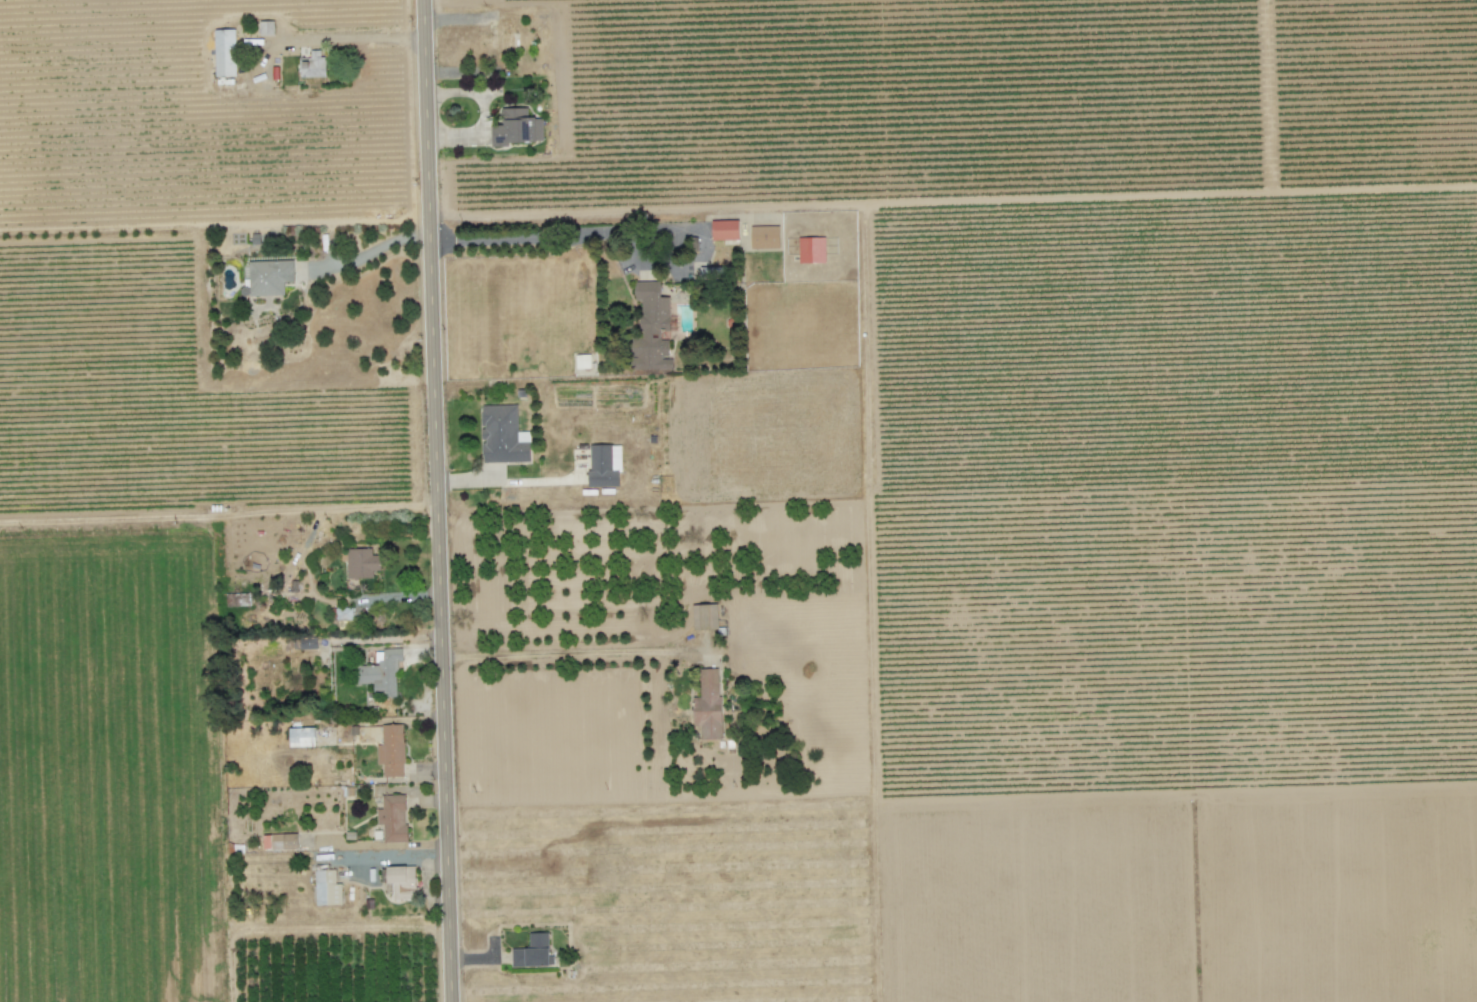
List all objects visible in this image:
building: (266, 27)
road: (348, 37)
building: (225, 52)
building: (312, 64)
building: (517, 127)
building: (726, 229)
building: (765, 236)
road: (533, 237)
building: (812, 249)
road: (373, 250)
building: (268, 276)
building: (652, 327)
building: (583, 360)
building: (503, 434)
building: (605, 465)
road: (434, 500)
building: (362, 562)
building: (343, 613)
building: (704, 616)
building: (380, 672)
building: (708, 704)
building: (301, 736)
building: (391, 750)
building: (393, 817)
building: (280, 841)
building: (327, 887)
building: (532, 951)

